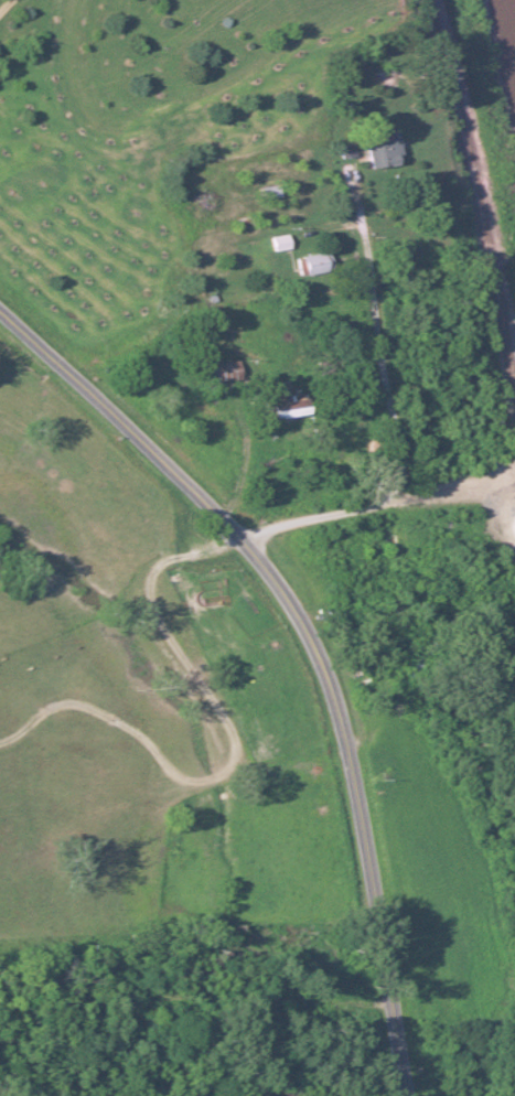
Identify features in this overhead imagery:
road: (2, 2)
building: (369, 149)
building: (264, 191)
railway: (471, 217)
building: (277, 243)
building: (311, 264)
building: (276, 407)
road: (390, 417)
building: (394, 534)
building: (206, 584)
road: (310, 646)
building: (118, 1008)

